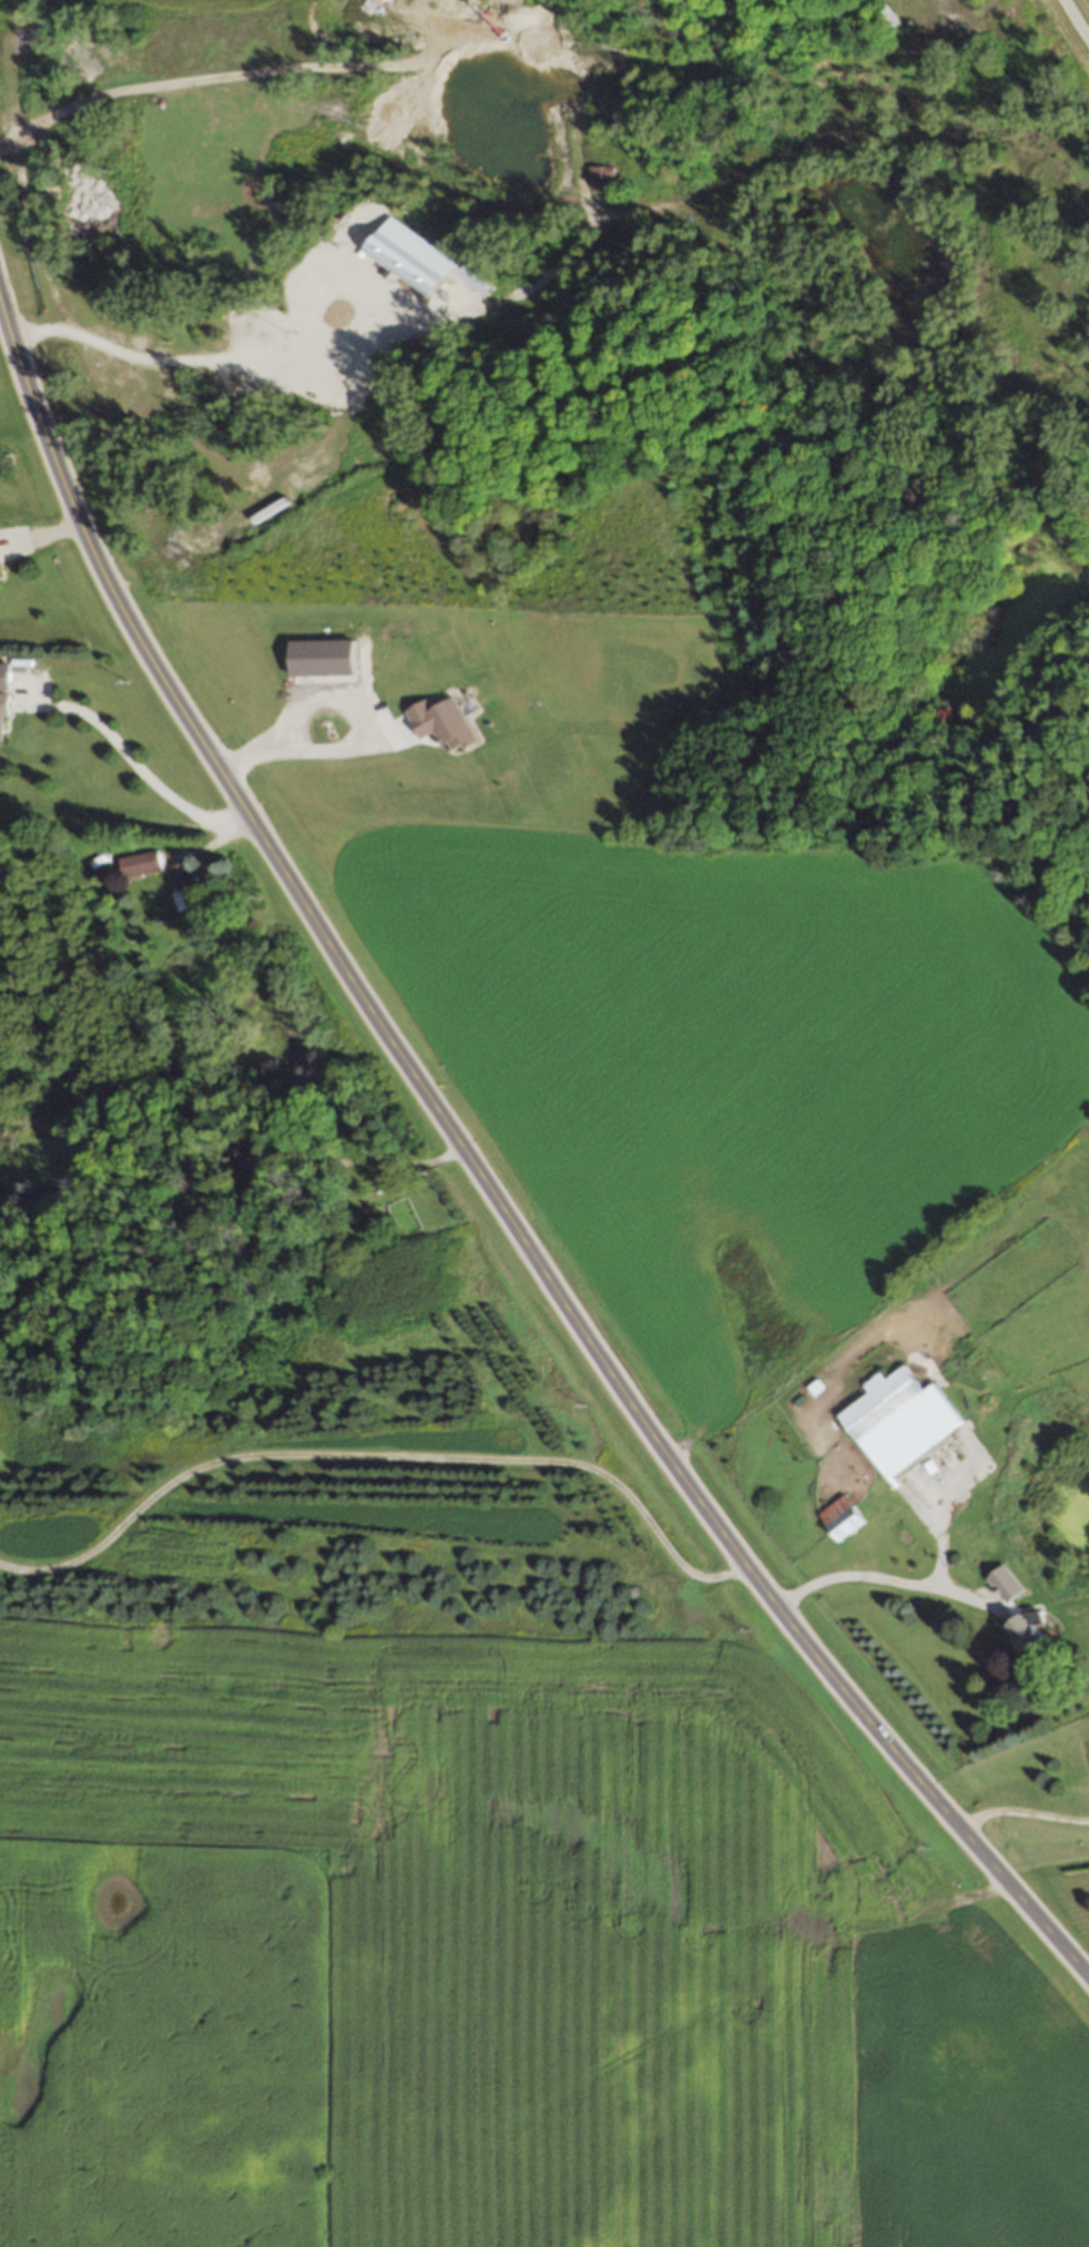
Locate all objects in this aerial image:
building: (882, 16)
road: (1069, 31)
road: (564, 156)
road: (45, 529)
building: (1, 715)
road: (139, 770)
building: (136, 864)
building: (182, 891)
road: (373, 1161)
road: (482, 1181)
building: (896, 1421)
road: (378, 1451)
building: (838, 1518)
road: (939, 1549)
road: (877, 1579)
building: (1025, 1628)
road: (1024, 1812)

